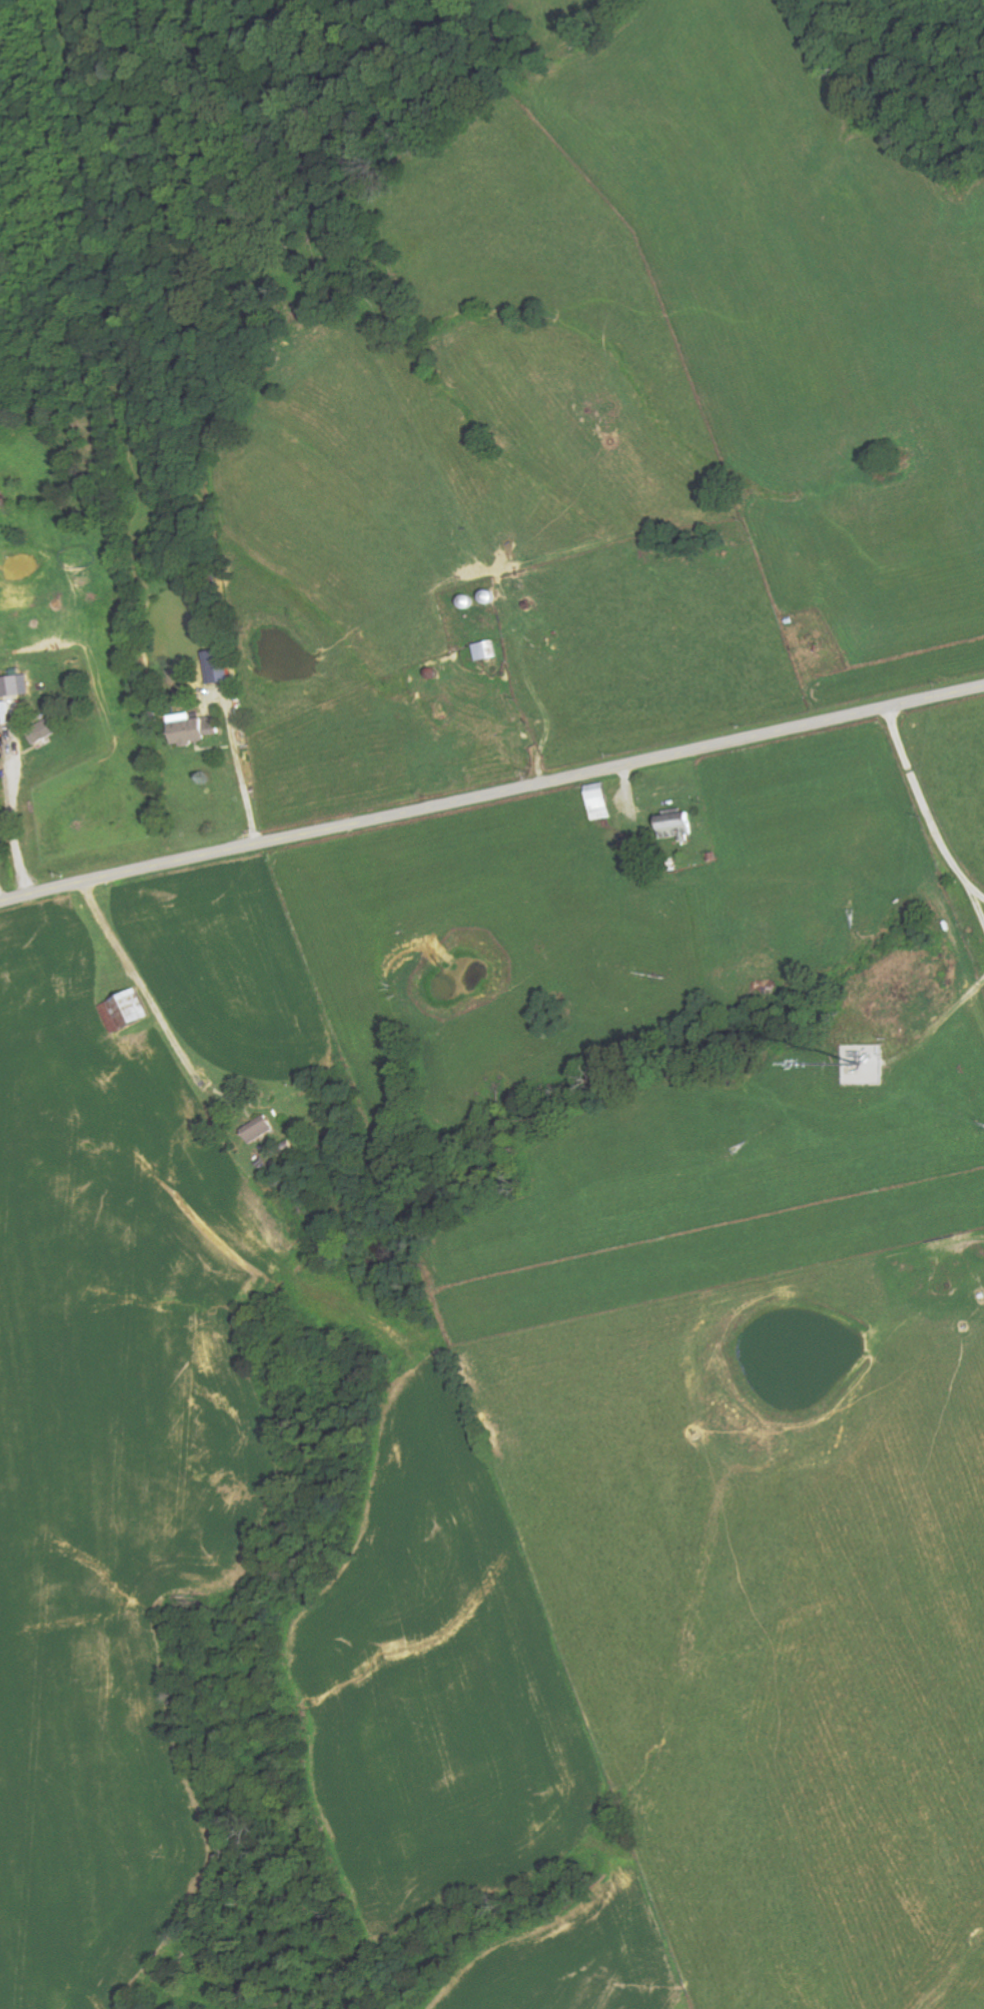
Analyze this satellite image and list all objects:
building: (218, 666)
building: (16, 685)
building: (194, 728)
building: (45, 731)
road: (240, 772)
road: (491, 796)
building: (600, 803)
road: (924, 810)
road: (12, 831)
road: (141, 985)
building: (127, 1011)
building: (260, 1129)

